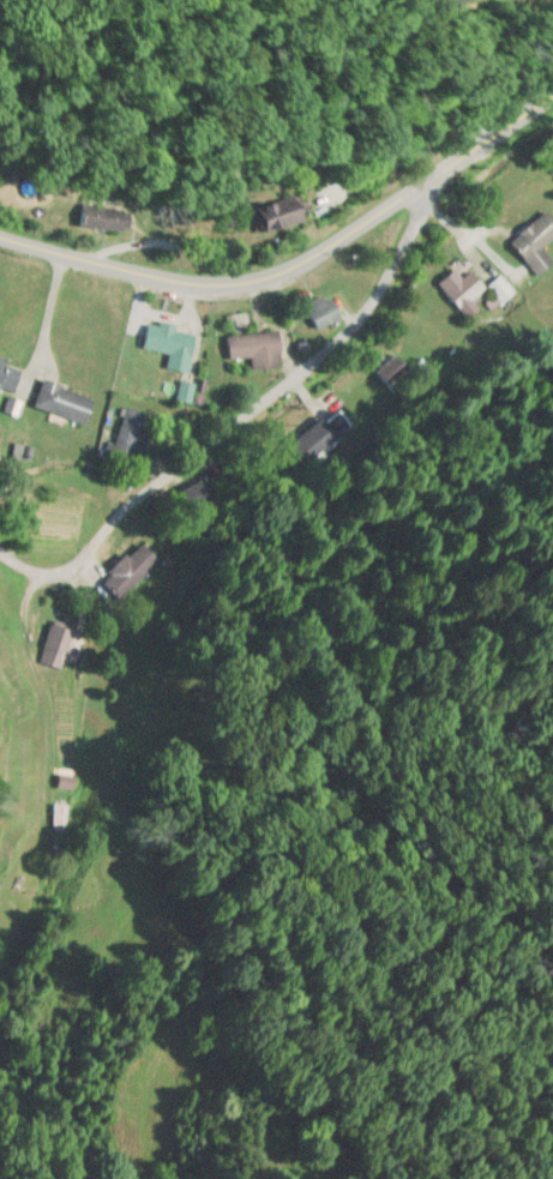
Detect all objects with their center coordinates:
building: (290, 213)
building: (108, 217)
building: (536, 243)
road: (296, 261)
building: (325, 311)
building: (172, 344)
building: (259, 349)
building: (392, 372)
building: (10, 375)
building: (185, 391)
building: (66, 401)
road: (239, 416)
building: (136, 431)
building: (196, 492)
building: (132, 567)
building: (60, 645)
building: (59, 816)

